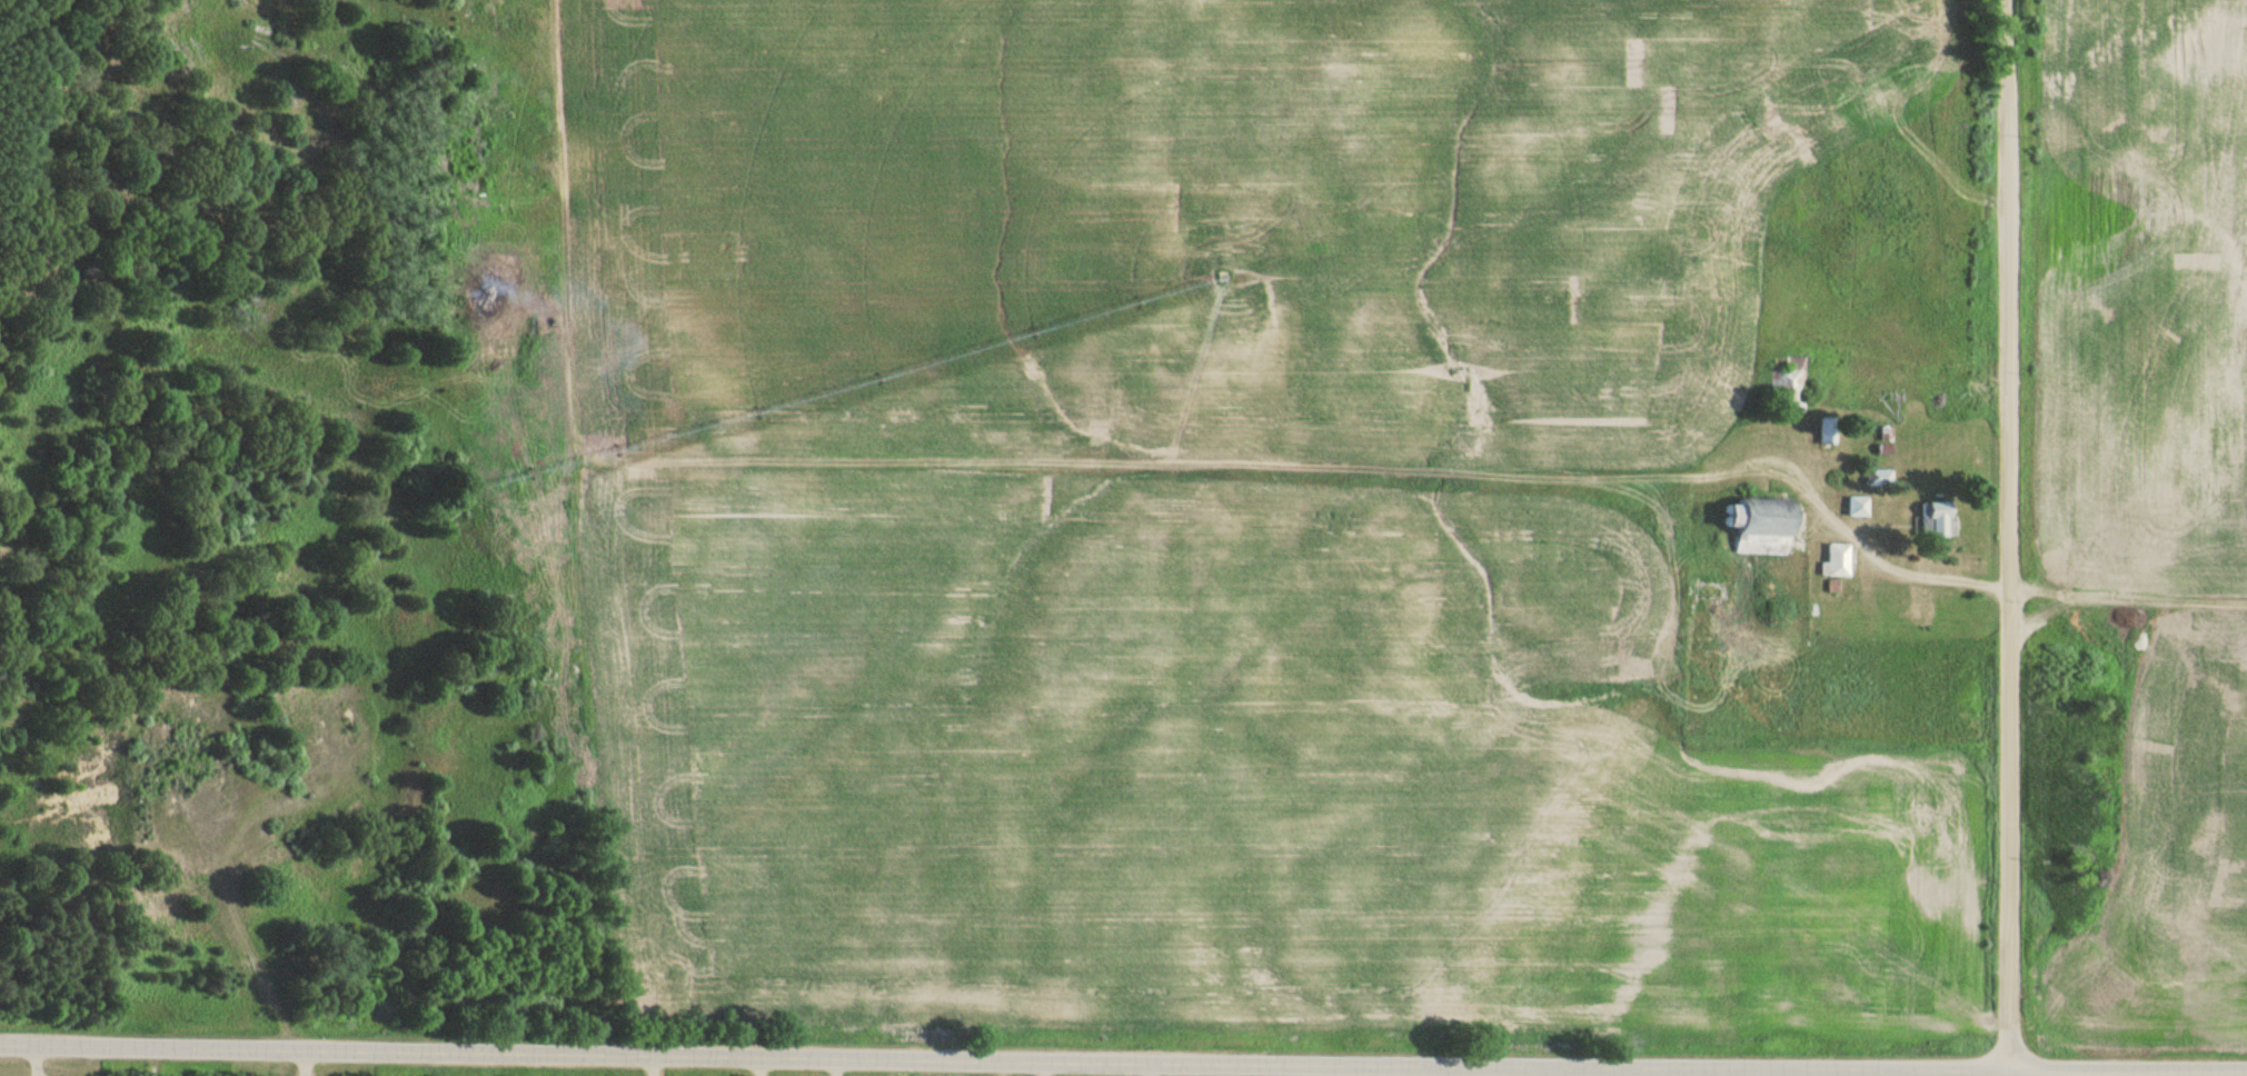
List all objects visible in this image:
building: (1791, 385)
building: (1880, 478)
building: (1938, 519)
building: (1761, 527)
road: (570, 531)
road: (2007, 538)
building: (1838, 561)
road: (1123, 1063)

